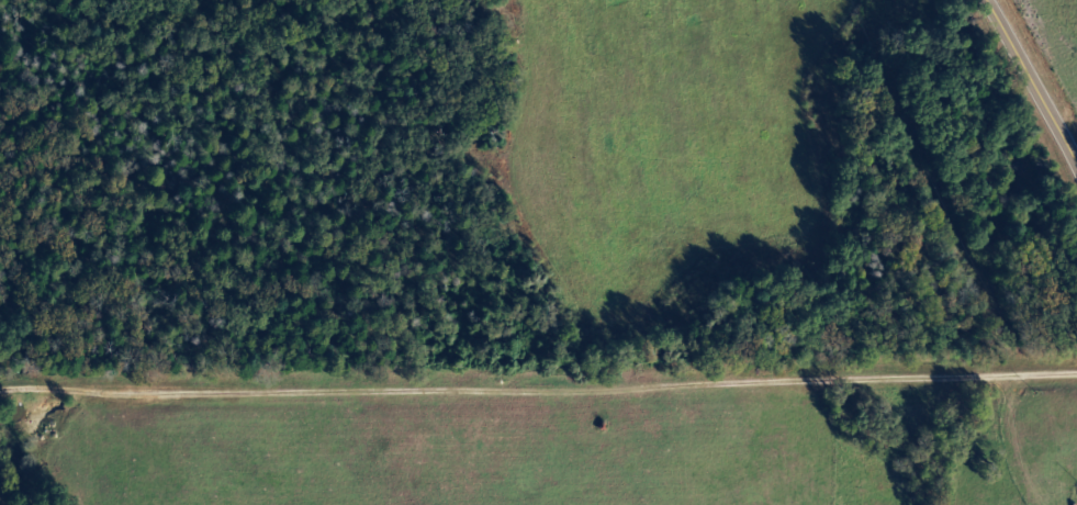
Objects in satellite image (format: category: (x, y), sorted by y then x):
road: (1031, 79)

